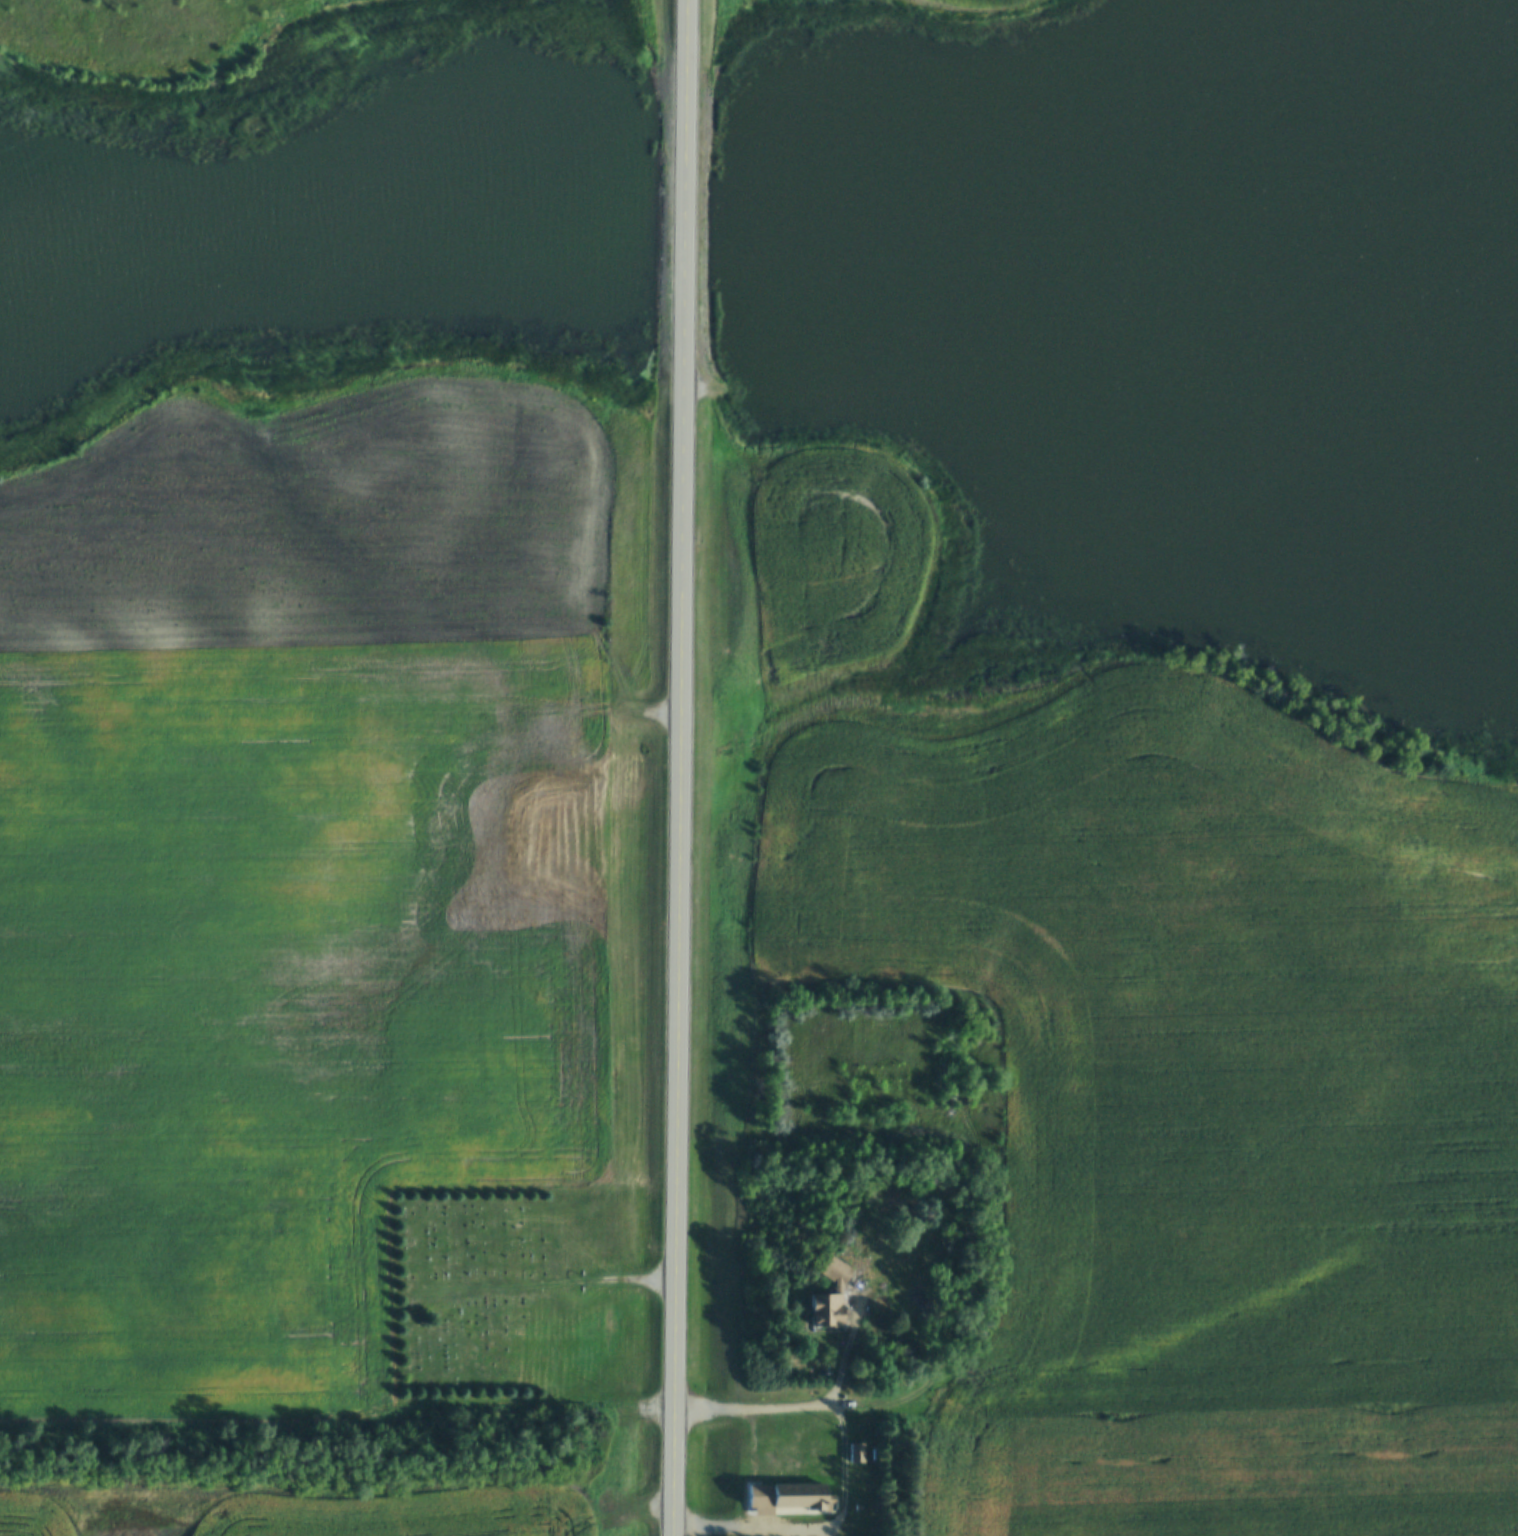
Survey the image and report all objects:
road: (684, 767)
building: (829, 1296)
road: (1180, 1390)
road: (761, 1412)
building: (854, 1454)
road: (849, 1481)
building: (792, 1497)
road: (739, 1532)

